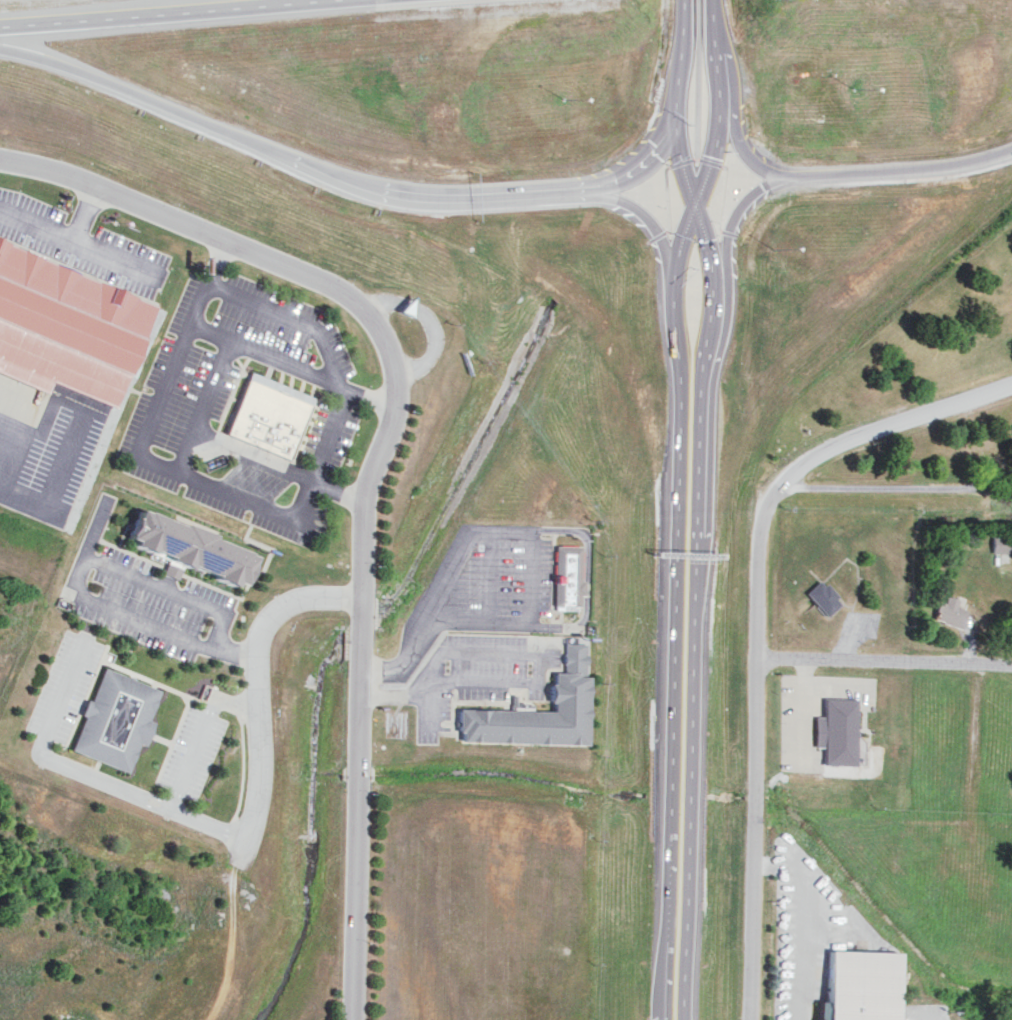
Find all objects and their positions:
road: (145, 12)
road: (697, 77)
road: (181, 114)
road: (675, 144)
road: (740, 144)
road: (709, 146)
road: (645, 154)
road: (679, 160)
road: (711, 161)
road: (896, 173)
road: (481, 197)
road: (663, 197)
road: (721, 199)
traffic signals: (696, 210)
road: (733, 222)
road: (37, 225)
road: (654, 227)
road: (728, 231)
road: (653, 232)
road: (88, 247)
road: (221, 253)
road: (294, 315)
building: (67, 329)
road: (280, 358)
road: (179, 363)
road: (380, 401)
building: (267, 420)
road: (245, 452)
road: (323, 455)
road: (375, 459)
road: (897, 487)
road: (218, 489)
road: (348, 496)
building: (1001, 542)
road: (92, 549)
building: (184, 549)
road: (268, 558)
building: (563, 577)
road: (158, 586)
building: (821, 596)
parking lot: (152, 604)
building: (948, 611)
road: (758, 621)
road: (147, 622)
road: (428, 623)
road: (223, 629)
road: (231, 647)
road: (694, 650)
road: (672, 653)
road: (884, 660)
road: (67, 688)
road: (259, 693)
road: (231, 702)
building: (533, 713)
building: (114, 721)
building: (835, 732)
building: (858, 749)
road: (194, 753)
road: (84, 774)
road: (154, 798)
road: (173, 802)
road: (150, 807)
road: (204, 825)
road: (802, 965)
building: (855, 989)

